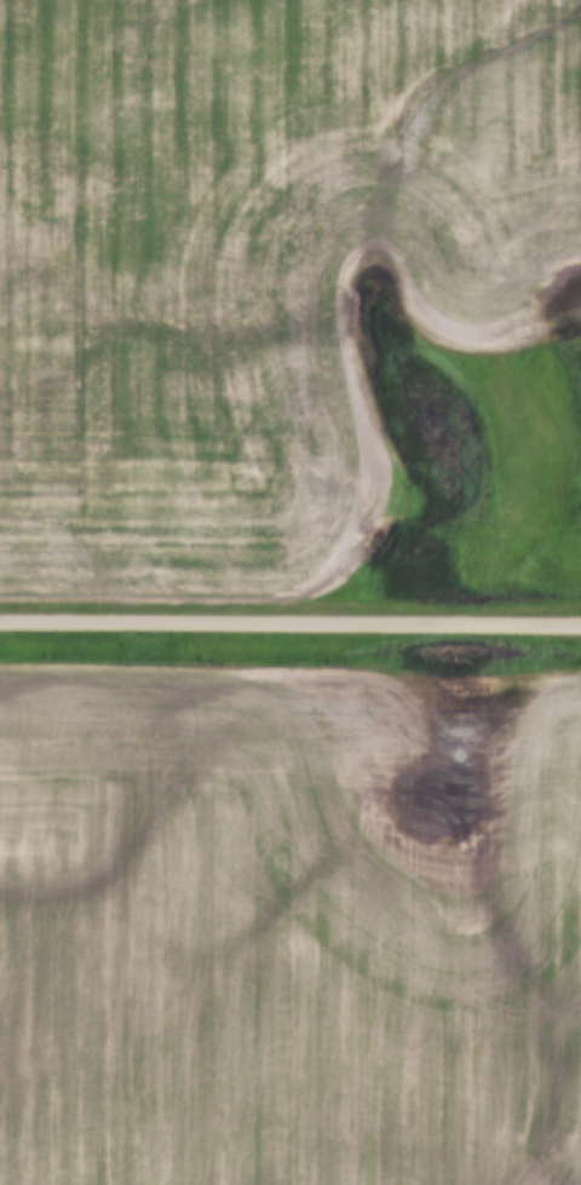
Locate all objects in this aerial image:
road: (290, 622)

